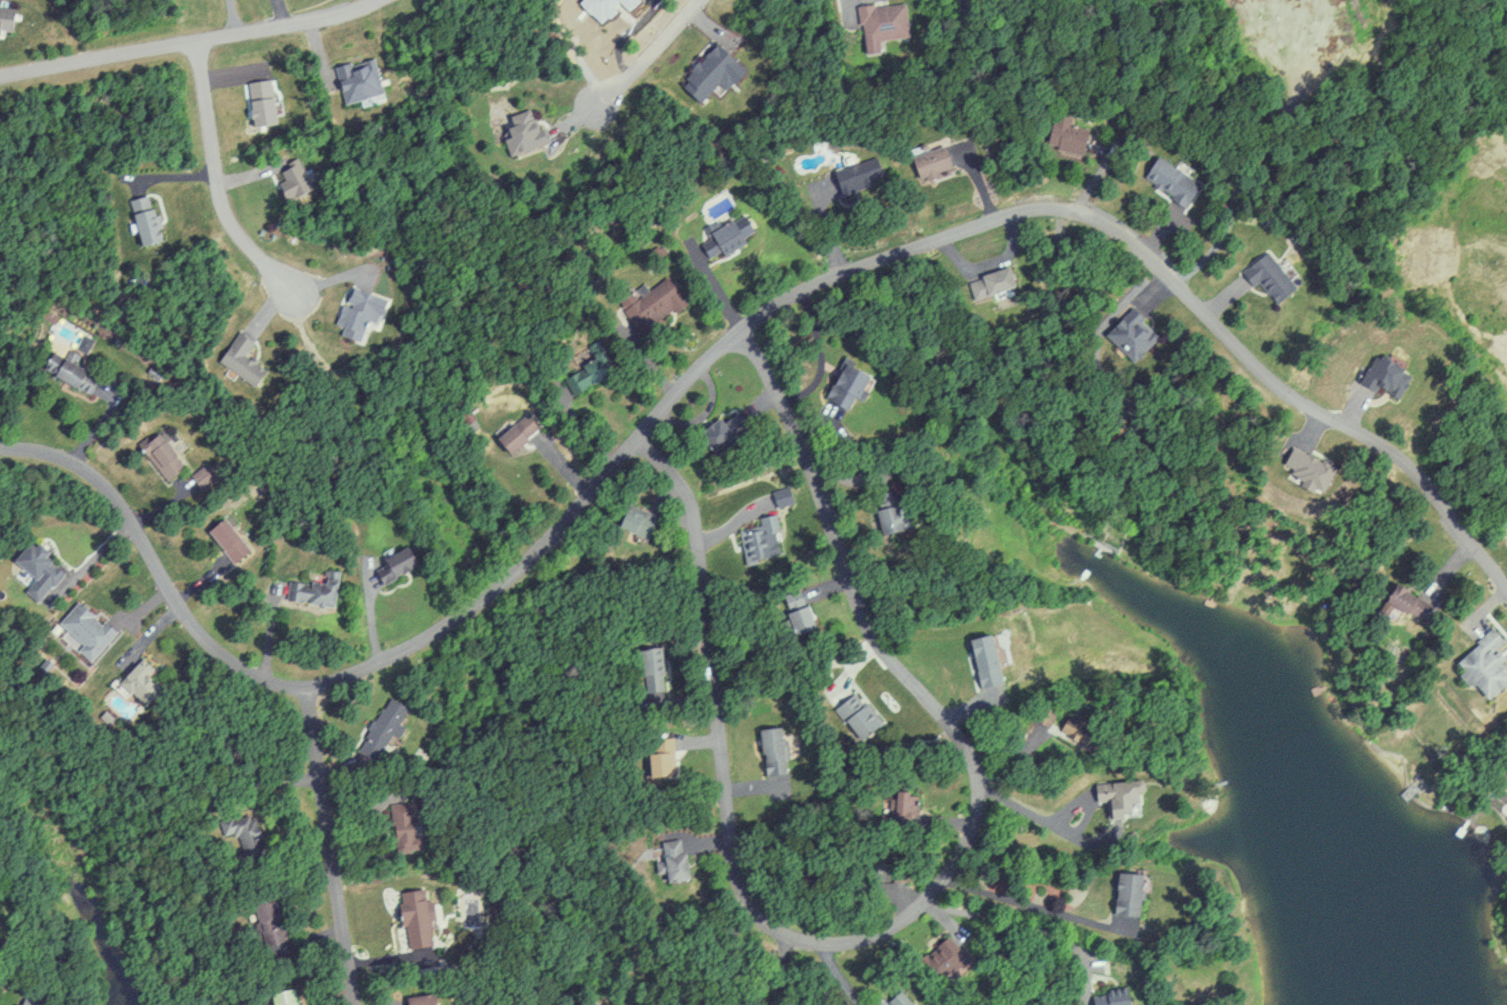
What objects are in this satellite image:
building: (6, 18)
building: (880, 33)
road: (191, 40)
road: (650, 55)
building: (356, 82)
building: (1060, 138)
building: (520, 142)
building: (925, 164)
building: (293, 177)
road: (214, 181)
building: (1166, 181)
building: (855, 182)
building: (824, 202)
building: (722, 244)
building: (988, 281)
building: (355, 314)
building: (647, 316)
building: (1131, 330)
road: (722, 342)
building: (237, 364)
building: (581, 369)
building: (72, 374)
building: (840, 396)
building: (516, 433)
building: (161, 461)
building: (1298, 465)
building: (884, 513)
building: (221, 539)
building: (757, 541)
building: (392, 564)
building: (307, 589)
building: (1400, 602)
building: (794, 624)
building: (1479, 663)
building: (1055, 718)
building: (859, 723)
building: (768, 748)
building: (1118, 797)
building: (895, 808)
road: (330, 844)
building: (1123, 894)
road: (912, 914)
building: (934, 955)
building: (1104, 998)

